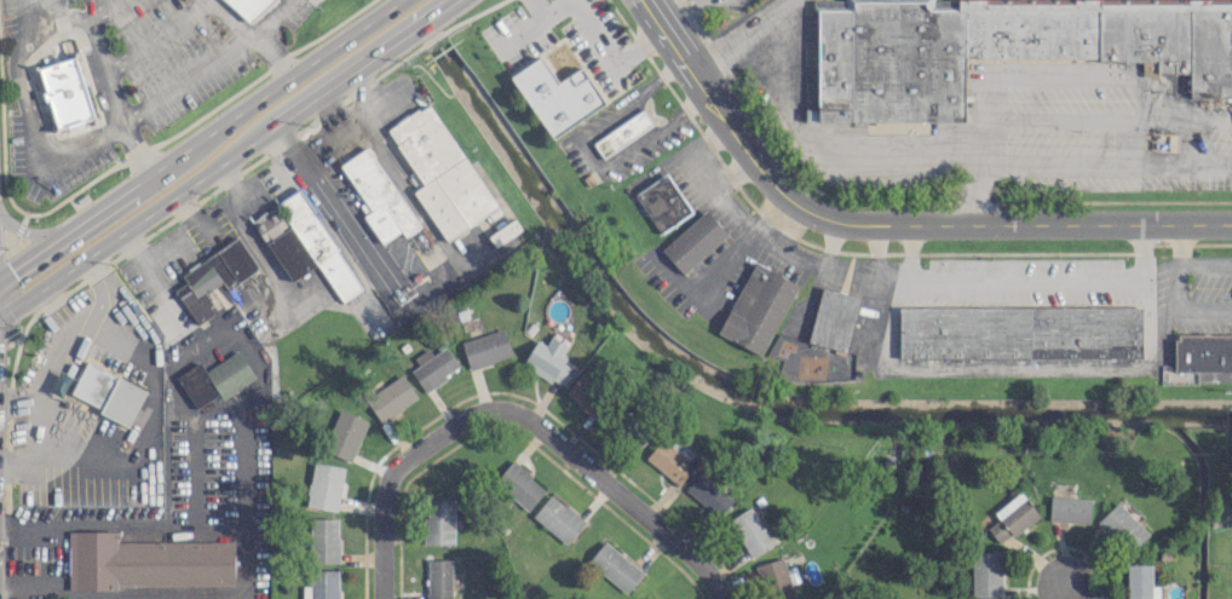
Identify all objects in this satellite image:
building: (248, 7)
road: (106, 12)
road: (683, 15)
road: (229, 16)
road: (267, 17)
road: (593, 30)
road: (738, 34)
road: (157, 35)
road: (346, 38)
road: (96, 46)
building: (1000, 47)
road: (270, 54)
road: (186, 81)
building: (67, 92)
building: (557, 96)
road: (29, 117)
road: (220, 123)
building: (622, 132)
road: (136, 149)
road: (228, 157)
road: (385, 159)
road: (955, 159)
building: (441, 171)
road: (733, 171)
road: (974, 191)
building: (379, 196)
building: (662, 202)
road: (732, 203)
road: (198, 215)
road: (778, 217)
road: (883, 223)
road: (74, 225)
road: (27, 232)
road: (249, 237)
building: (693, 241)
building: (304, 242)
road: (1205, 261)
traffic signals: (12, 270)
road: (822, 272)
building: (214, 277)
road: (871, 282)
road: (1027, 283)
road: (1179, 293)
building: (756, 307)
road: (169, 316)
building: (834, 318)
building: (1019, 332)
building: (485, 347)
building: (1203, 352)
building: (548, 361)
building: (1041, 365)
building: (433, 367)
building: (1192, 375)
building: (213, 379)
building: (106, 392)
building: (587, 393)
building: (391, 397)
road: (217, 410)
building: (345, 434)
building: (669, 461)
road: (392, 472)
building: (519, 484)
building: (324, 485)
building: (709, 494)
road: (617, 495)
building: (1069, 508)
building: (1012, 517)
building: (558, 518)
building: (438, 520)
building: (1122, 526)
building: (750, 530)
building: (324, 538)
building: (145, 561)
building: (614, 566)
building: (985, 574)
building: (438, 578)
building: (775, 580)
building: (1140, 582)
building: (322, 584)
road: (1061, 587)

